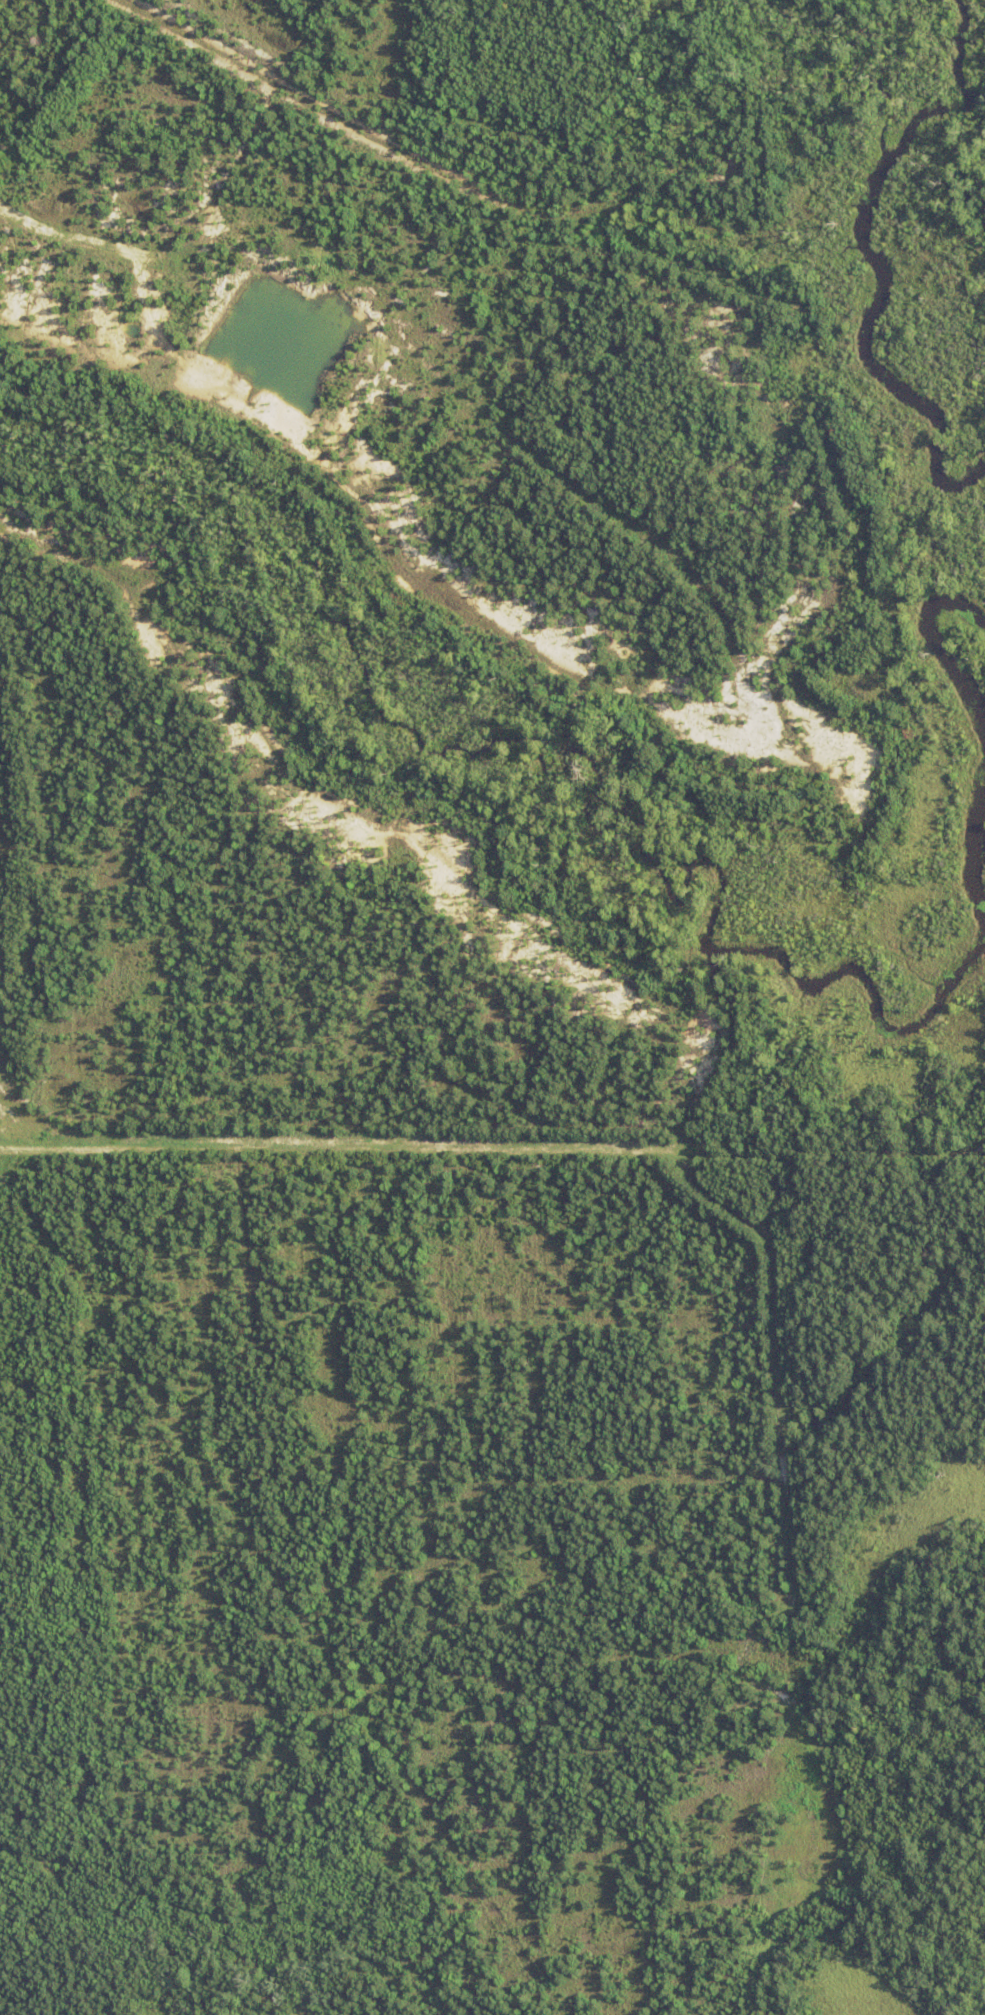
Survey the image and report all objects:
road: (492, 1197)

